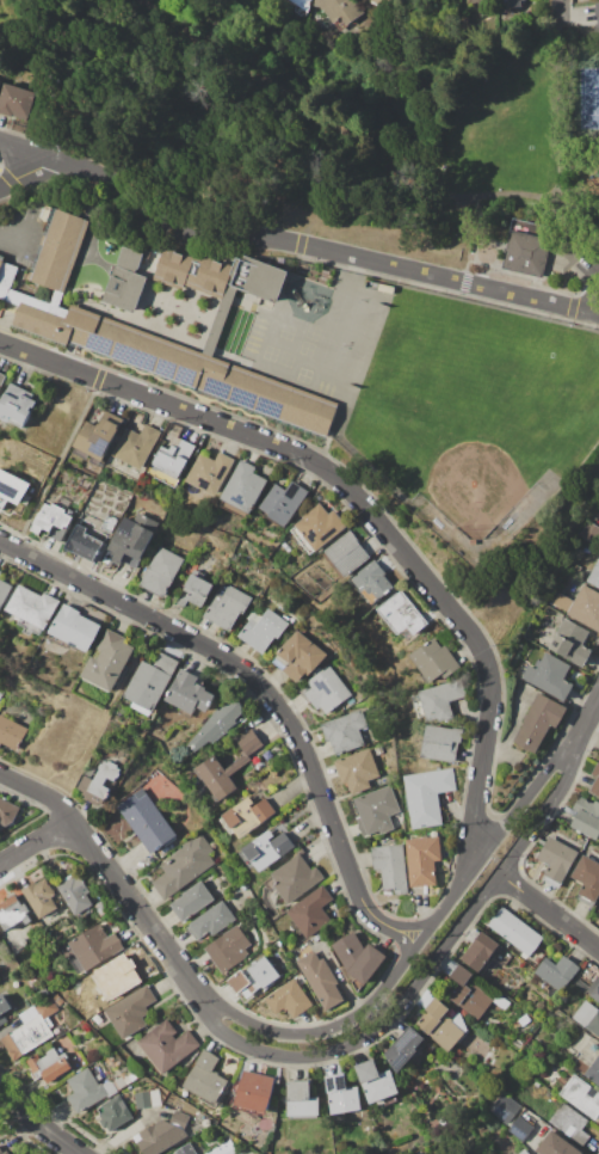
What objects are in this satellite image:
building: (379, 2)
building: (301, 4)
building: (520, 4)
road: (160, 7)
building: (598, 10)
road: (558, 11)
building: (340, 12)
road: (81, 37)
road: (433, 55)
building: (16, 102)
road: (558, 127)
park: (326, 131)
road: (579, 147)
road: (371, 151)
road: (27, 174)
road: (373, 209)
road: (20, 233)
road: (290, 241)
road: (301, 243)
building: (525, 248)
building: (193, 274)
building: (125, 281)
road: (592, 295)
building: (241, 308)
building: (144, 337)
building: (2, 379)
building: (17, 405)
building: (97, 441)
building: (137, 446)
building: (172, 462)
building: (209, 473)
building: (12, 489)
building: (242, 490)
road: (362, 501)
building: (284, 503)
building: (53, 522)
building: (109, 523)
building: (317, 528)
building: (589, 532)
building: (132, 540)
building: (84, 545)
building: (346, 554)
building: (0, 572)
building: (161, 572)
building: (594, 575)
building: (372, 583)
building: (197, 590)
building: (4, 591)
building: (227, 606)
building: (581, 607)
building: (33, 609)
building: (402, 614)
building: (74, 630)
building: (263, 630)
building: (570, 642)
building: (298, 657)
building: (109, 661)
building: (436, 661)
building: (549, 676)
road: (253, 679)
building: (150, 683)
building: (326, 690)
building: (189, 694)
building: (438, 701)
building: (538, 722)
building: (216, 725)
road: (583, 728)
building: (345, 732)
building: (11, 733)
building: (440, 743)
building: (229, 767)
building: (358, 772)
building: (595, 781)
building: (100, 782)
building: (427, 796)
building: (376, 811)
building: (7, 812)
building: (247, 817)
building: (586, 818)
building: (146, 821)
road: (35, 843)
building: (266, 851)
building: (422, 860)
building: (556, 860)
building: (184, 867)
building: (391, 868)
building: (295, 878)
road: (115, 880)
building: (587, 880)
building: (75, 894)
building: (41, 898)
building: (191, 902)
building: (101, 908)
road: (550, 911)
building: (13, 913)
building: (310, 913)
building: (211, 921)
road: (413, 926)
building: (515, 932)
road: (405, 941)
road: (416, 947)
building: (94, 949)
building: (228, 949)
building: (480, 952)
building: (358, 958)
building: (556, 972)
road: (424, 975)
building: (255, 978)
building: (321, 980)
building: (588, 988)
building: (473, 994)
building: (290, 1000)
building: (4, 1007)
building: (131, 1012)
building: (587, 1017)
building: (441, 1025)
building: (31, 1030)
building: (168, 1045)
building: (405, 1050)
building: (581, 1064)
building: (50, 1066)
building: (593, 1073)
building: (206, 1080)
building: (376, 1082)
building: (91, 1089)
building: (251, 1092)
building: (342, 1097)
building: (582, 1097)
building: (147, 1099)
building: (301, 1100)
building: (504, 1107)
building: (115, 1113)
building: (570, 1123)
road: (39, 1125)
building: (520, 1129)
building: (161, 1134)
building: (556, 1146)
building: (186, 1149)
building: (223, 1149)
building: (4, 1152)
building: (524, 1152)

